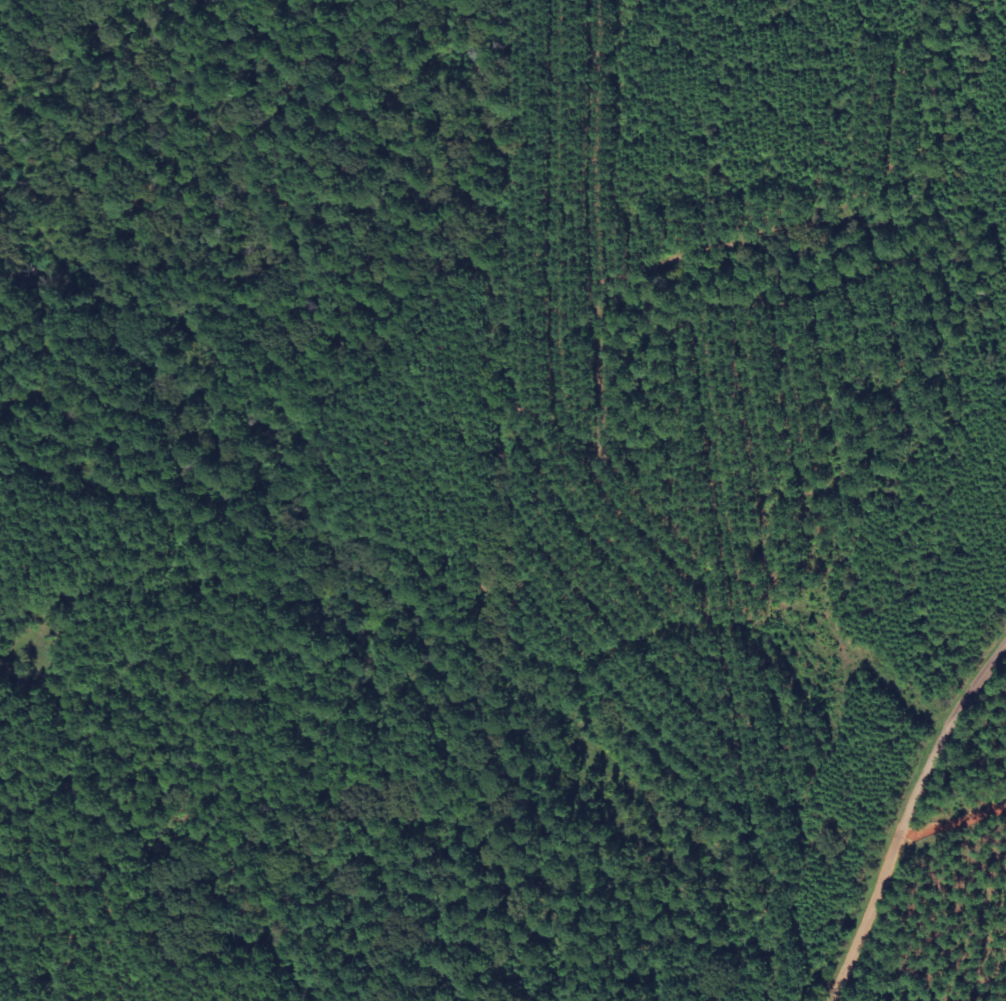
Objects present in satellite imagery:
road: (920, 829)

